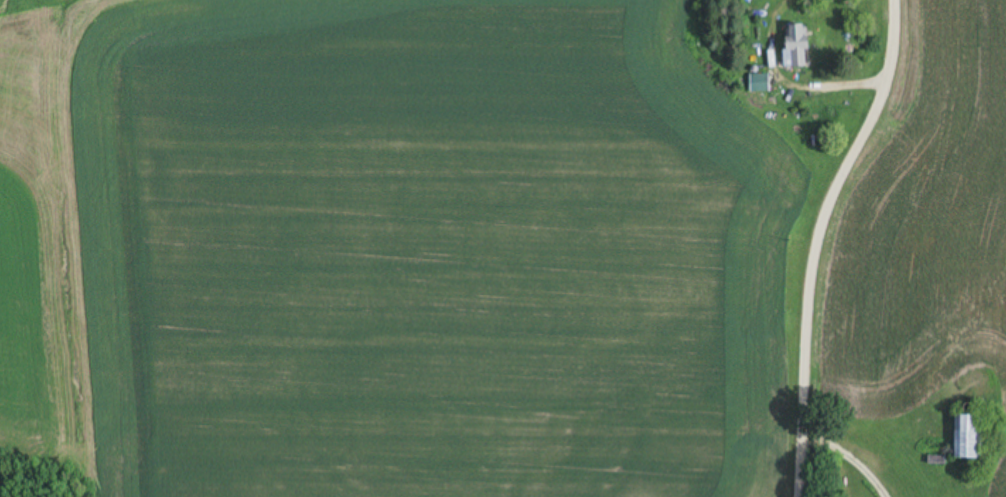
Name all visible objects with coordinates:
building: (796, 47)
building: (759, 83)
road: (817, 240)
building: (967, 435)

